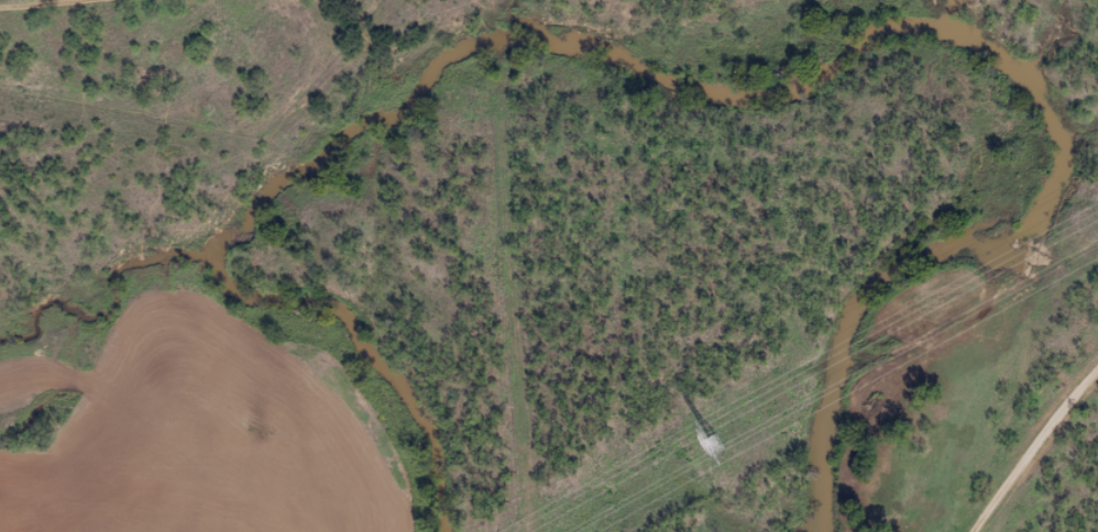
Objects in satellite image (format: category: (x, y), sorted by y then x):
power tower: (716, 445)
road: (1044, 462)

